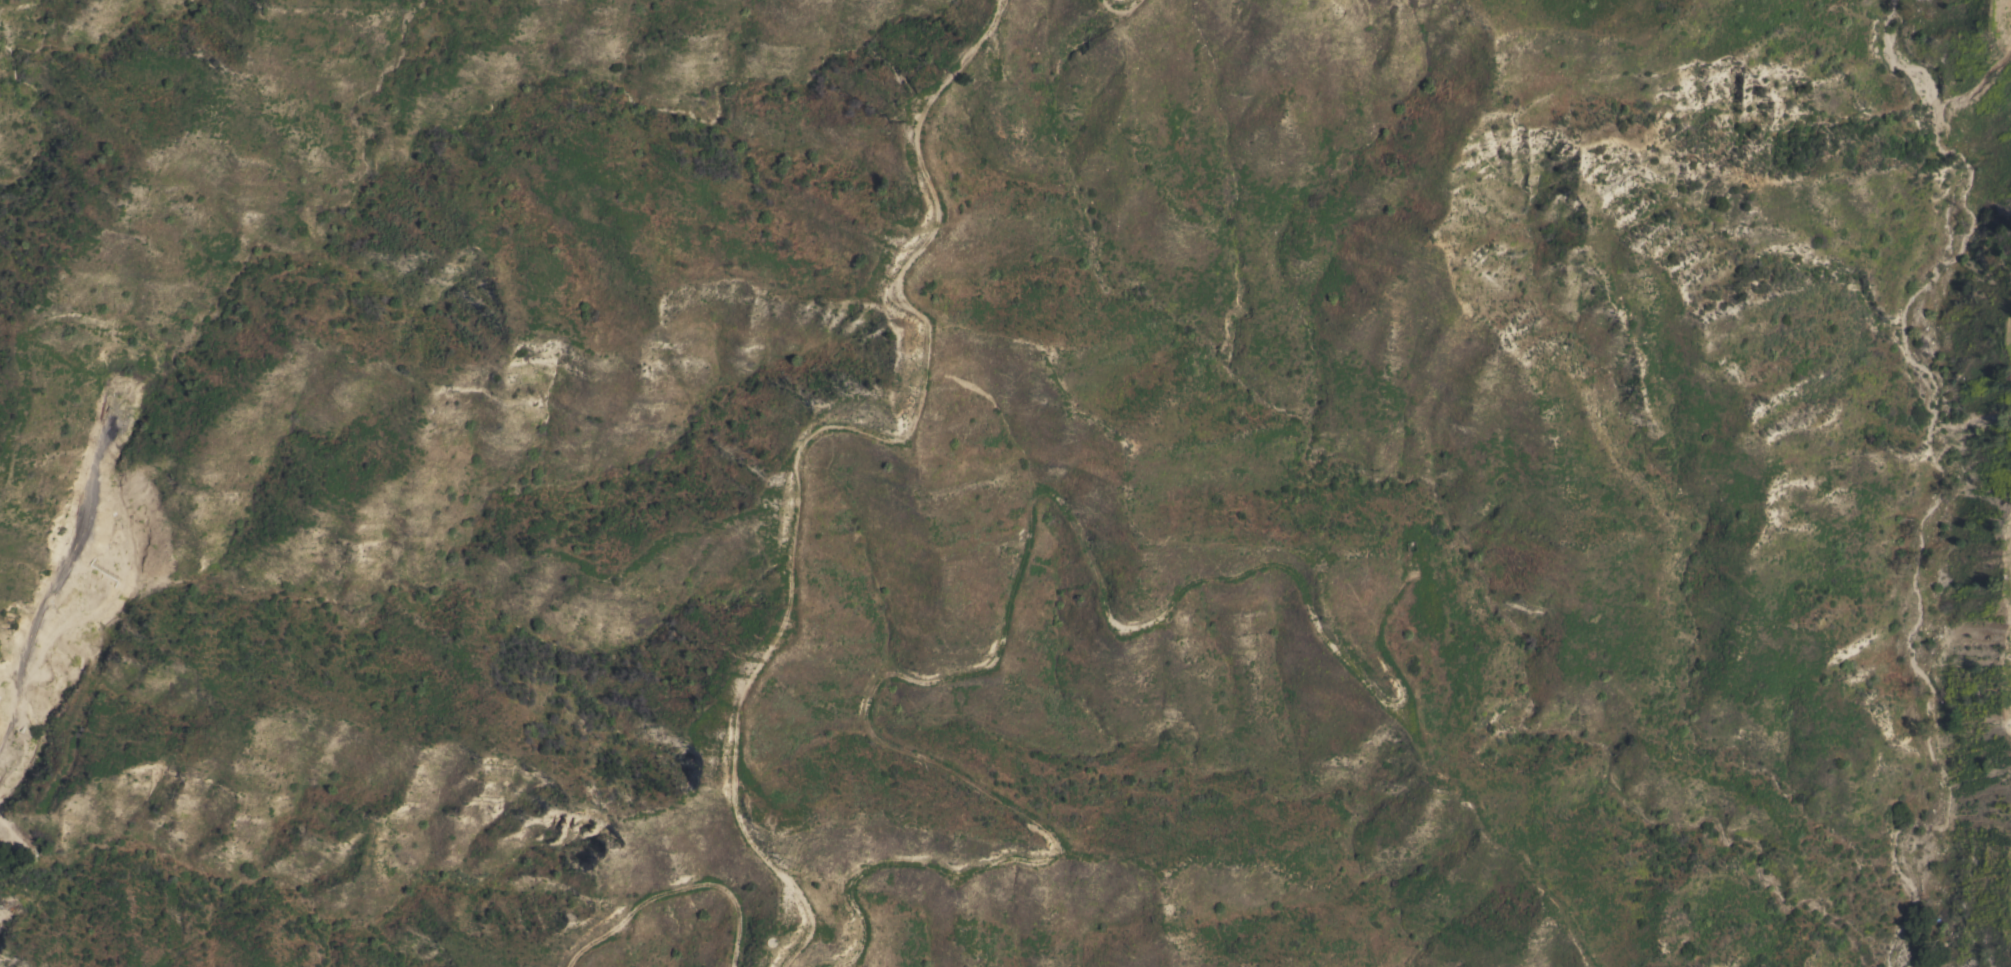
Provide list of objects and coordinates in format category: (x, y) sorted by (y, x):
road: (1120, 3)
road: (807, 431)
building: (1409, 540)
building: (115, 566)
road: (1007, 596)
building: (24, 731)
road: (670, 888)
building: (772, 942)

